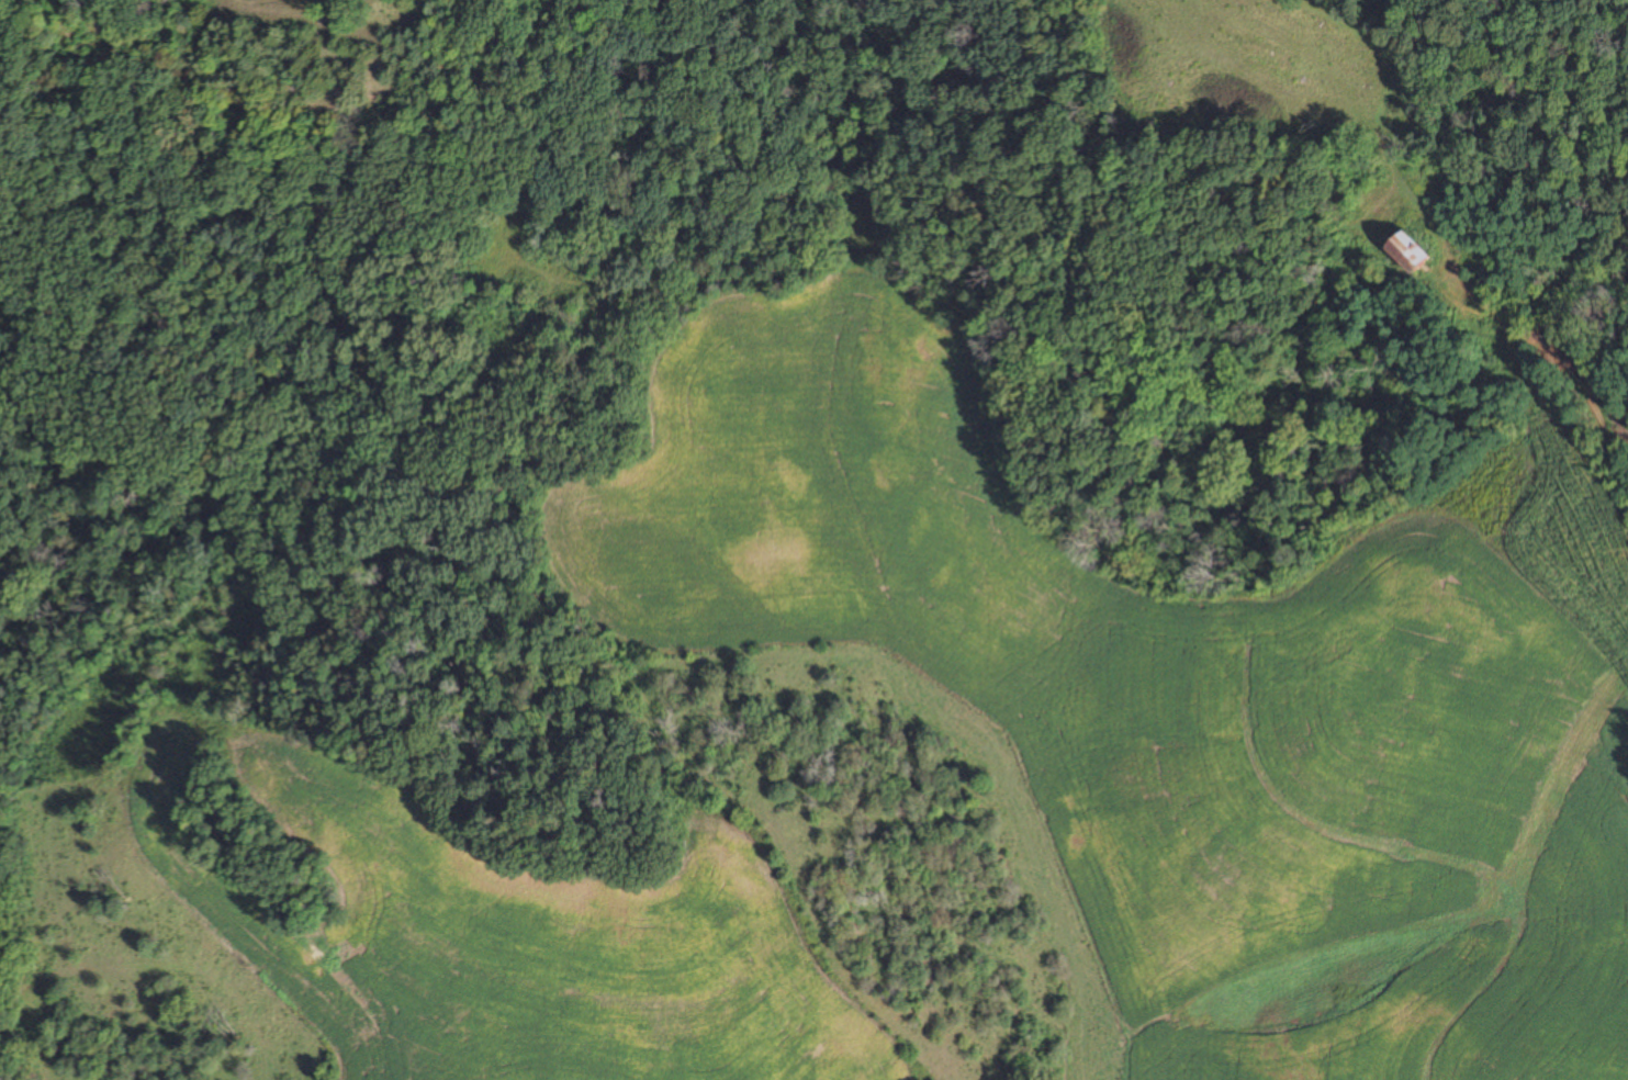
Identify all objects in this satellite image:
road: (1615, 424)

